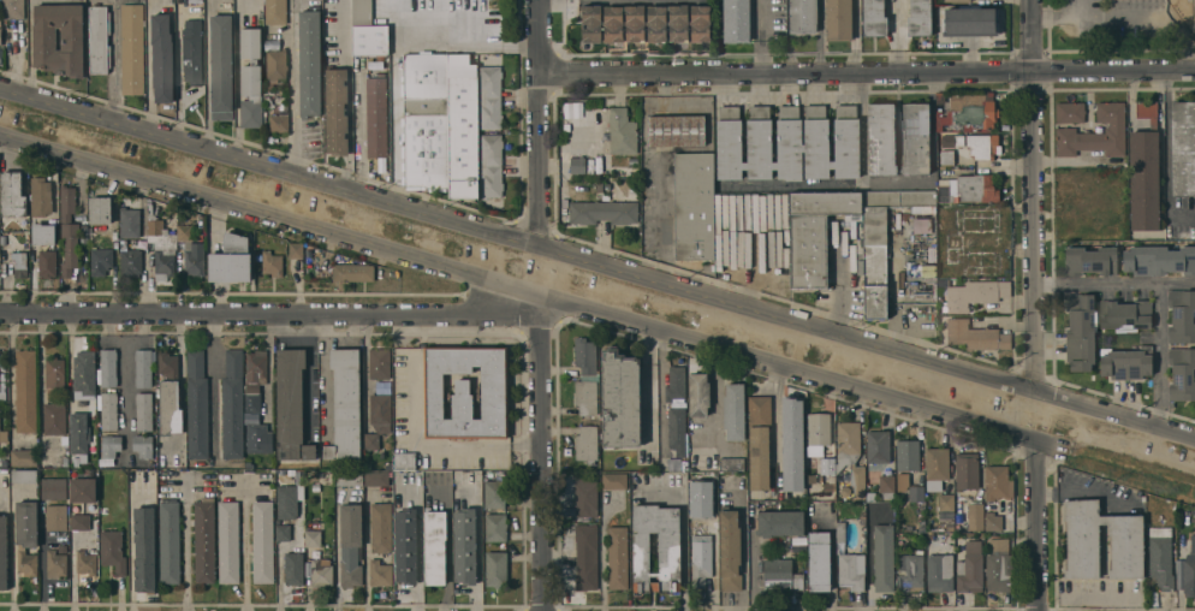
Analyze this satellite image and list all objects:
building: (957, 0)
building: (939, 2)
road: (1083, 7)
building: (12, 8)
building: (275, 11)
building: (363, 13)
road: (1129, 14)
building: (803, 16)
parking lot: (1125, 17)
building: (874, 18)
building: (920, 18)
building: (736, 20)
building: (838, 20)
building: (678, 22)
building: (969, 22)
park: (1124, 22)
building: (591, 23)
building: (612, 23)
building: (635, 23)
building: (656, 23)
building: (700, 23)
building: (0, 36)
road: (761, 36)
road: (897, 36)
building: (44, 38)
building: (99, 38)
building: (370, 40)
road: (469, 45)
building: (132, 49)
building: (191, 51)
building: (162, 58)
building: (309, 63)
building: (275, 65)
building: (220, 67)
road: (1113, 71)
road: (786, 73)
building: (250, 78)
road: (295, 87)
road: (347, 94)
building: (489, 96)
building: (976, 97)
building: (337, 111)
building: (1069, 112)
building: (975, 115)
building: (376, 117)
building: (279, 120)
building: (427, 120)
road: (394, 121)
road: (540, 123)
building: (463, 127)
building: (940, 127)
building: (676, 130)
road: (861, 130)
building: (622, 131)
building: (1095, 134)
building: (881, 138)
building: (915, 138)
building: (802, 142)
building: (846, 142)
building: (729, 143)
building: (759, 143)
building: (982, 146)
building: (1183, 147)
building: (946, 158)
building: (632, 161)
building: (491, 165)
building: (577, 165)
building: (832, 165)
building: (744, 166)
building: (774, 166)
road: (270, 167)
building: (1145, 171)
building: (977, 188)
building: (12, 194)
building: (944, 194)
road: (1035, 194)
building: (40, 196)
building: (899, 197)
building: (67, 203)
building: (694, 206)
building: (100, 209)
building: (923, 209)
building: (602, 212)
road: (272, 216)
building: (945, 218)
building: (129, 221)
building: (922, 225)
building: (143, 231)
building: (185, 232)
building: (43, 233)
building: (814, 233)
building: (997, 241)
building: (161, 247)
building: (70, 248)
building: (296, 251)
building: (307, 253)
building: (129, 259)
building: (100, 260)
building: (194, 260)
building: (231, 260)
building: (1159, 260)
building: (1090, 261)
building: (47, 262)
building: (875, 262)
building: (19, 263)
building: (270, 263)
building: (920, 271)
building: (352, 272)
road: (1158, 291)
building: (973, 293)
road: (273, 309)
building: (1124, 314)
building: (1182, 316)
road: (290, 330)
building: (1080, 331)
building: (976, 337)
road: (868, 340)
building: (379, 363)
building: (1126, 363)
building: (168, 364)
building: (256, 366)
road: (787, 366)
building: (108, 367)
building: (143, 368)
road: (322, 372)
building: (54, 373)
building: (84, 373)
road: (309, 374)
building: (1182, 374)
building: (585, 376)
building: (676, 384)
building: (25, 391)
building: (465, 392)
building: (698, 395)
building: (620, 399)
building: (251, 402)
building: (290, 402)
building: (197, 404)
building: (232, 405)
building: (345, 405)
building: (170, 408)
building: (380, 409)
building: (108, 410)
building: (143, 411)
building: (733, 411)
building: (54, 419)
road: (777, 421)
building: (677, 429)
building: (78, 433)
building: (818, 433)
building: (4, 435)
building: (256, 438)
building: (64, 439)
building: (702, 439)
building: (759, 440)
building: (371, 441)
building: (587, 443)
building: (791, 444)
building: (109, 445)
building: (142, 445)
road: (506, 445)
building: (878, 446)
building: (308, 451)
road: (546, 452)
building: (850, 455)
building: (908, 455)
building: (24, 457)
building: (83, 458)
building: (404, 461)
building: (65, 462)
building: (388, 464)
building: (731, 464)
building: (827, 465)
building: (937, 468)
building: (967, 471)
building: (23, 476)
building: (142, 477)
building: (349, 477)
building: (376, 477)
building: (902, 477)
building: (614, 480)
building: (997, 482)
building: (886, 486)
building: (315, 487)
building: (54, 488)
building: (83, 490)
building: (714, 490)
building: (494, 492)
building: (916, 493)
building: (585, 496)
building: (286, 502)
building: (945, 505)
building: (698, 512)
building: (975, 516)
building: (57, 517)
building: (79, 521)
building: (993, 521)
building: (780, 523)
road: (1035, 523)
building: (950, 526)
building: (381, 527)
building: (495, 527)
building: (840, 532)
building: (283, 533)
building: (313, 534)
building: (26, 535)
building: (950, 536)
building: (204, 540)
road: (418, 541)
building: (170, 542)
building: (228, 542)
building: (263, 542)
building: (1193, 542)
building: (351, 544)
road: (246, 546)
building: (405, 546)
building: (434, 546)
building: (464, 546)
road: (131, 547)
building: (144, 548)
building: (61, 550)
road: (186, 550)
building: (730, 550)
building: (113, 551)
building: (668, 552)
building: (1126, 552)
building: (2, 553)
road: (868, 554)
building: (585, 556)
building: (618, 557)
building: (1160, 557)
building: (882, 558)
building: (85, 560)
building: (819, 560)
building: (55, 564)
building: (701, 564)
building: (999, 565)
building: (293, 568)
building: (495, 569)
building: (970, 569)
building: (851, 570)
road: (367, 571)
building: (321, 573)
building: (910, 573)
building: (940, 573)
building: (380, 574)
building: (780, 575)
building: (1189, 577)

